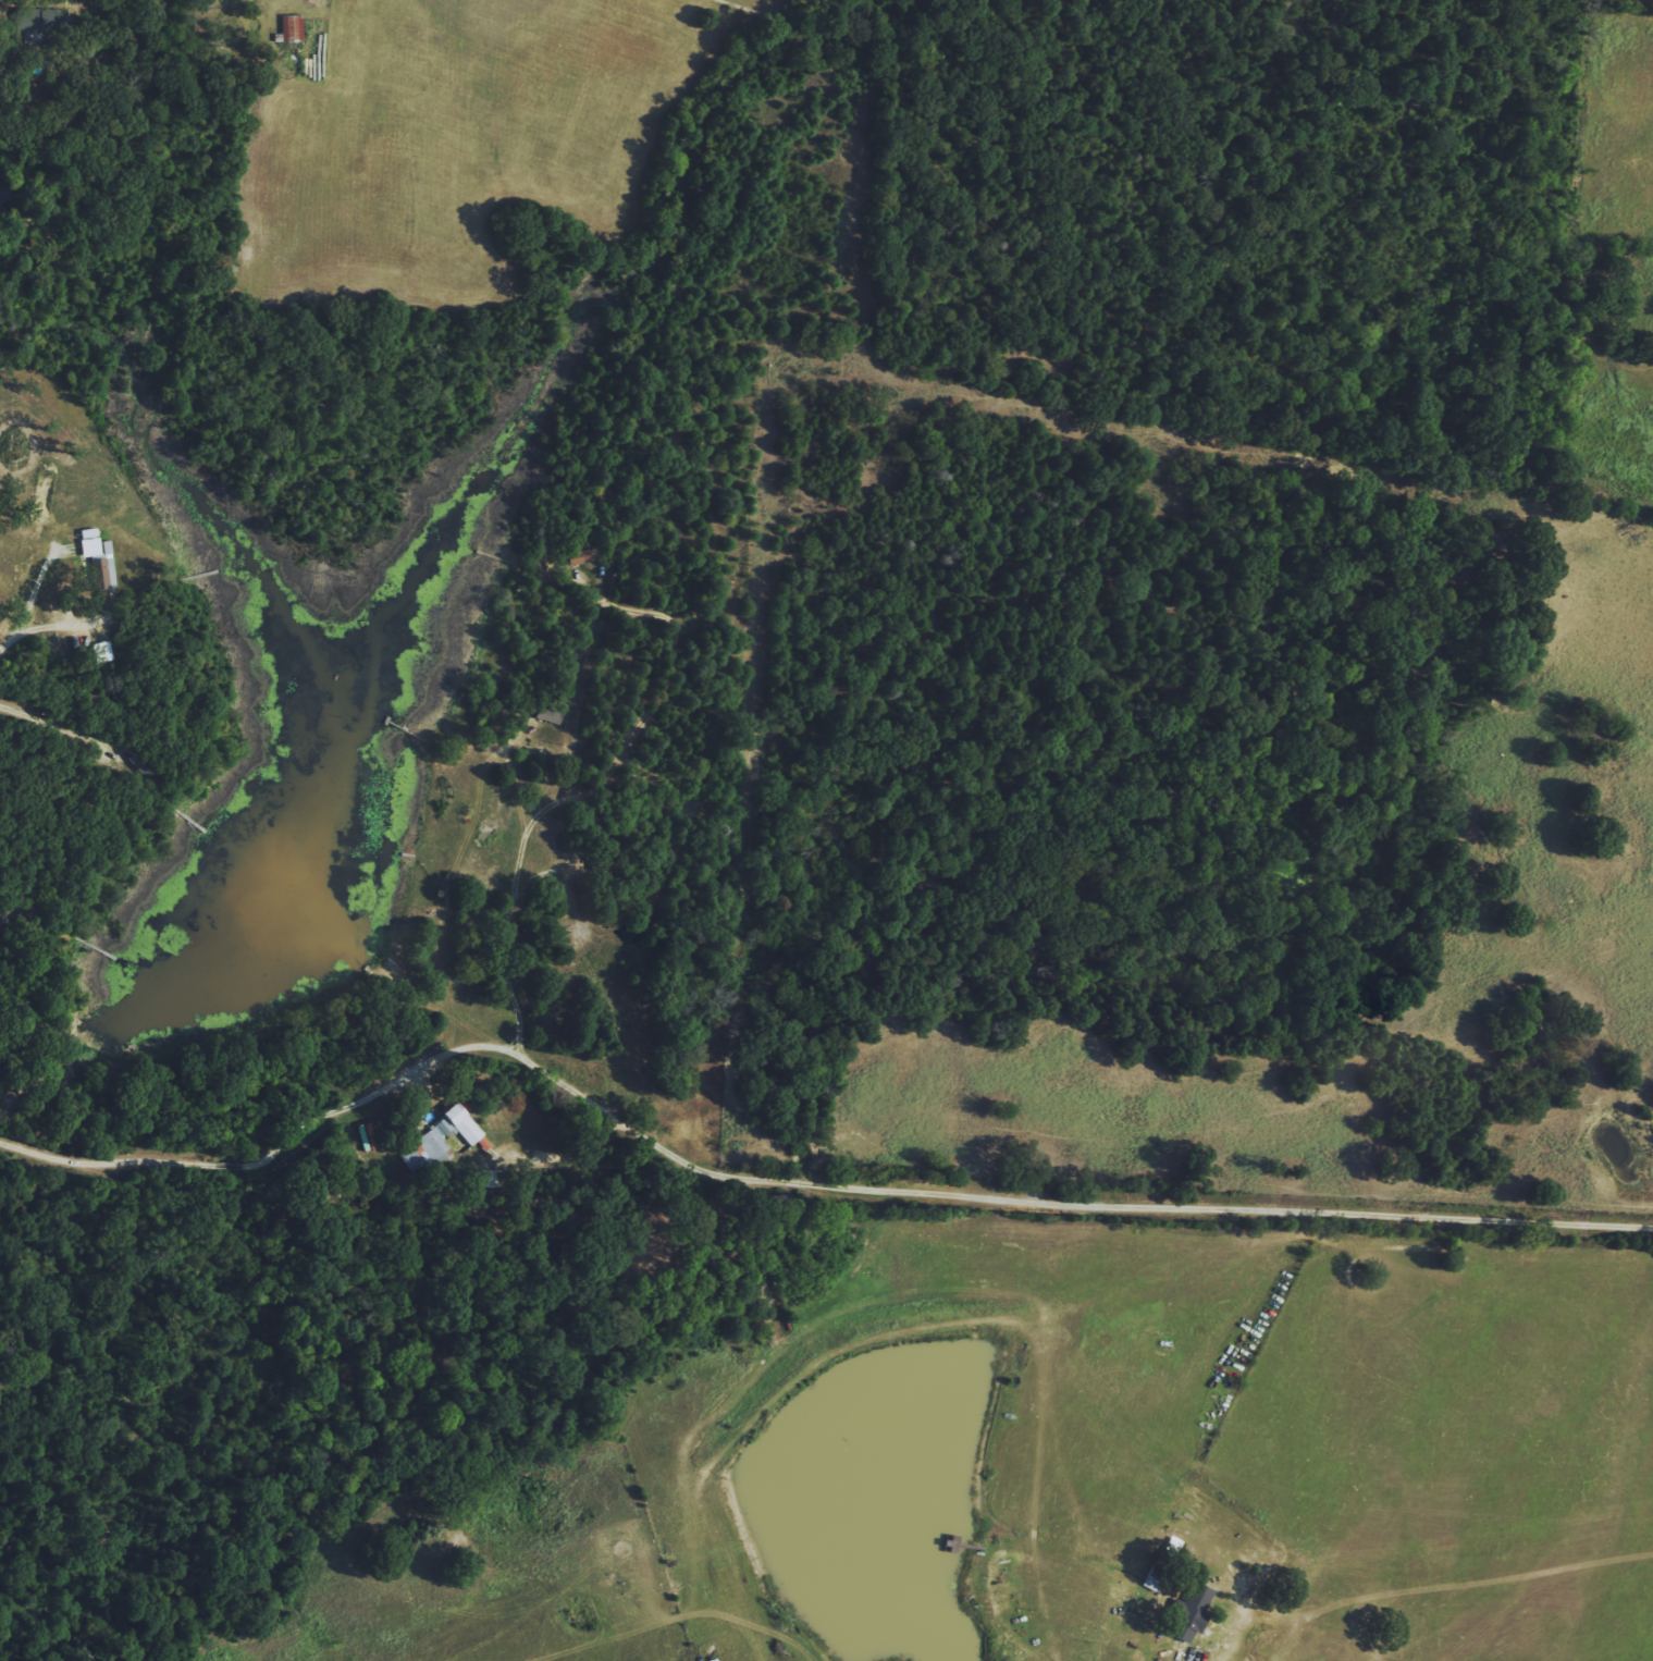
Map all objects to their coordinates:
building: (39, 22)
building: (291, 27)
building: (96, 557)
building: (578, 557)
road: (15, 628)
building: (100, 651)
building: (444, 1134)
road: (791, 1183)
building: (1188, 1611)
road: (1187, 1659)

